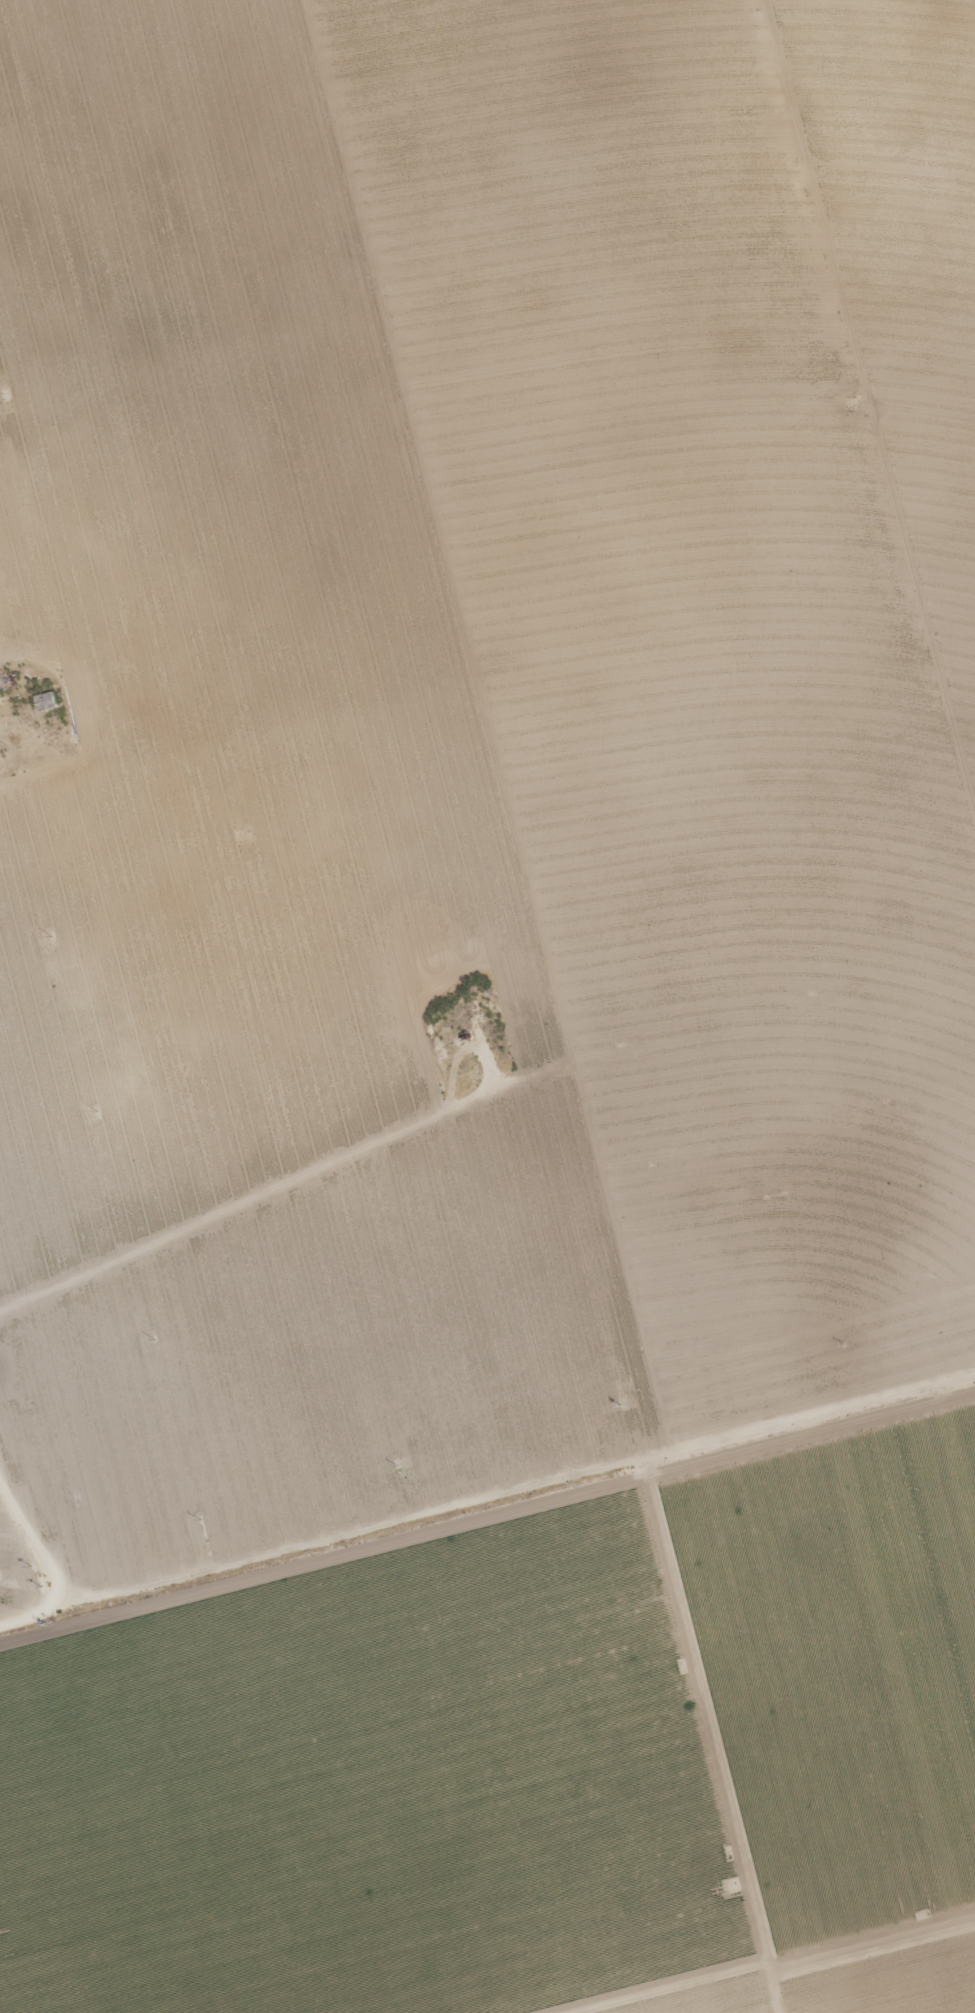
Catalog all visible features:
road: (440, 1525)

